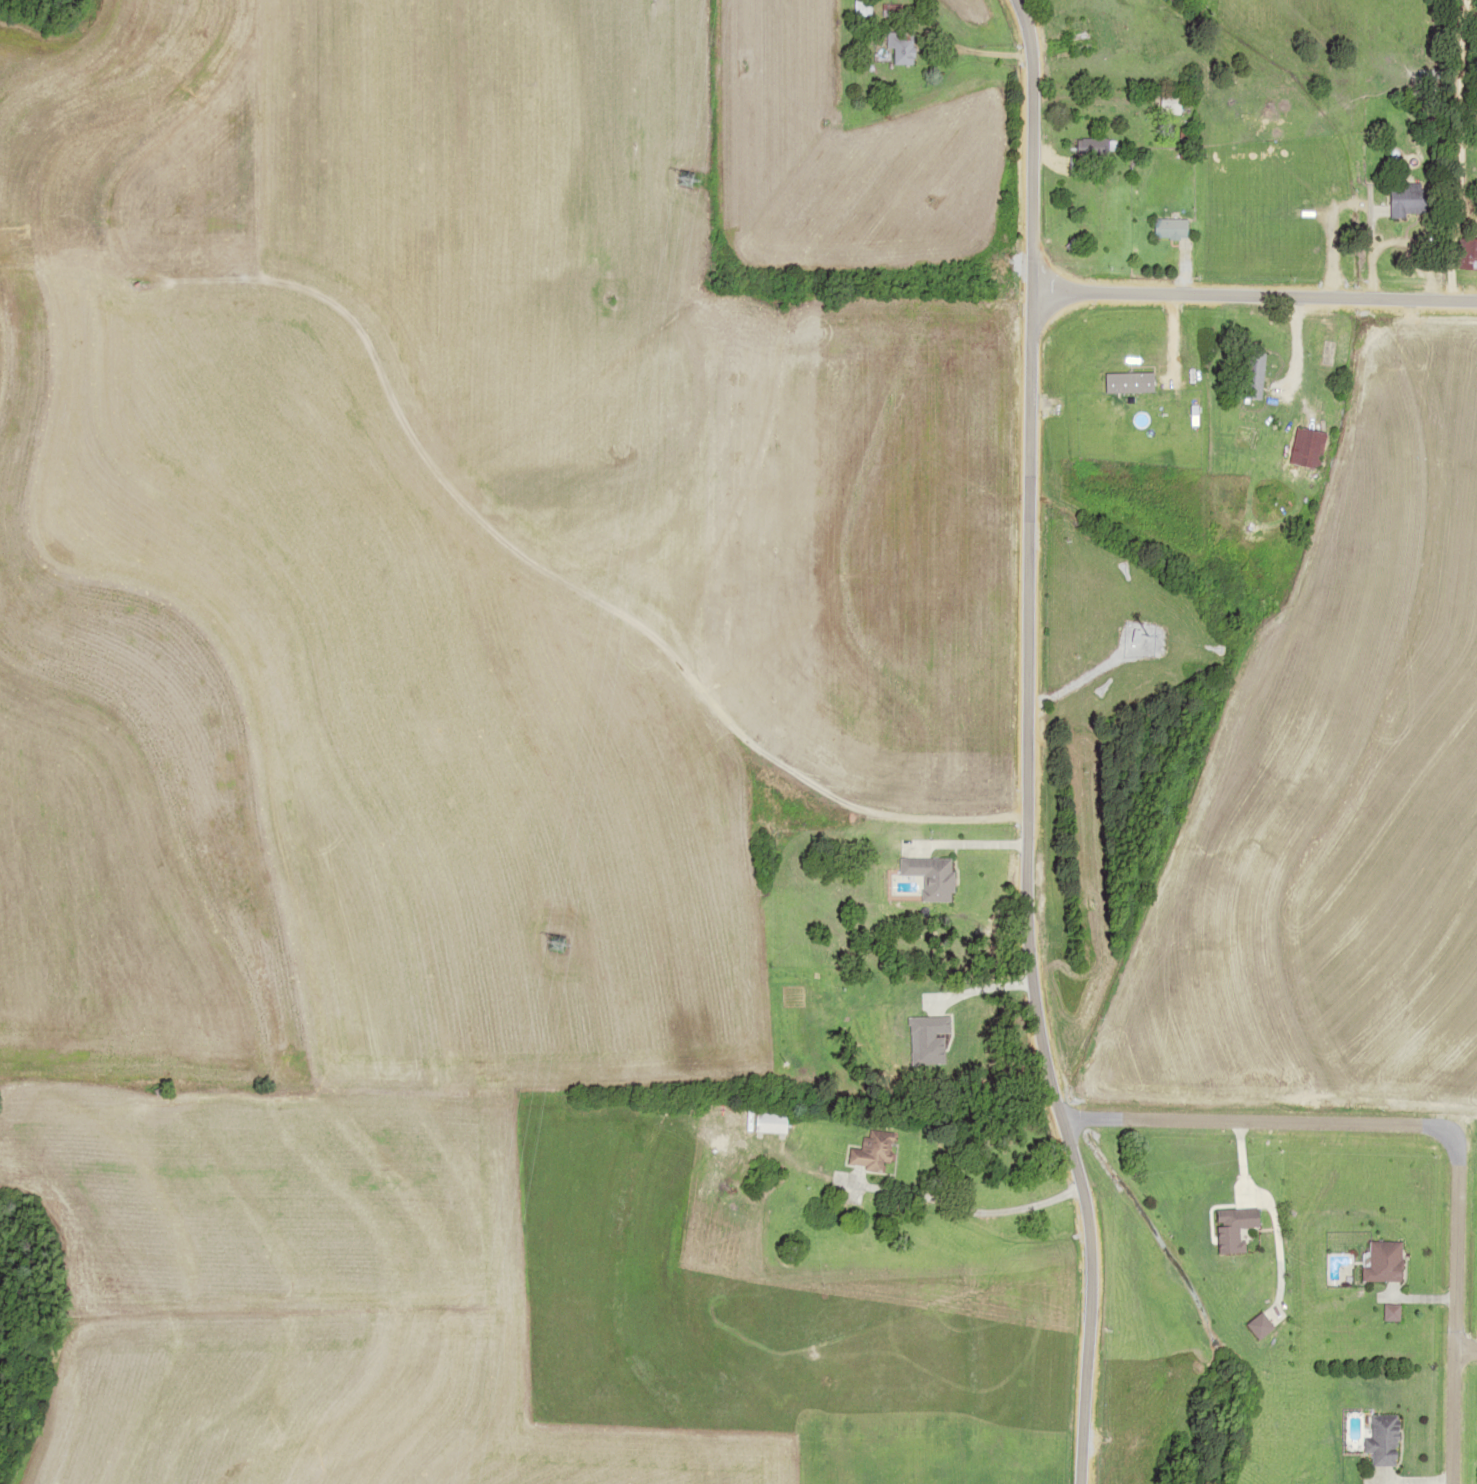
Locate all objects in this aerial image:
building: (859, 7)
building: (890, 10)
building: (1077, 35)
building: (900, 48)
building: (1166, 103)
building: (1089, 146)
building: (1407, 200)
building: (1165, 227)
building: (1070, 243)
building: (1465, 253)
road: (1068, 272)
road: (1262, 308)
building: (1246, 371)
building: (1301, 447)
road: (471, 545)
power tower: (605, 597)
road: (1039, 744)
building: (923, 876)
road: (1275, 1113)
building: (765, 1120)
building: (862, 1154)
building: (1228, 1229)
building: (1376, 1261)
building: (1384, 1312)
building: (1254, 1325)
building: (1375, 1441)

